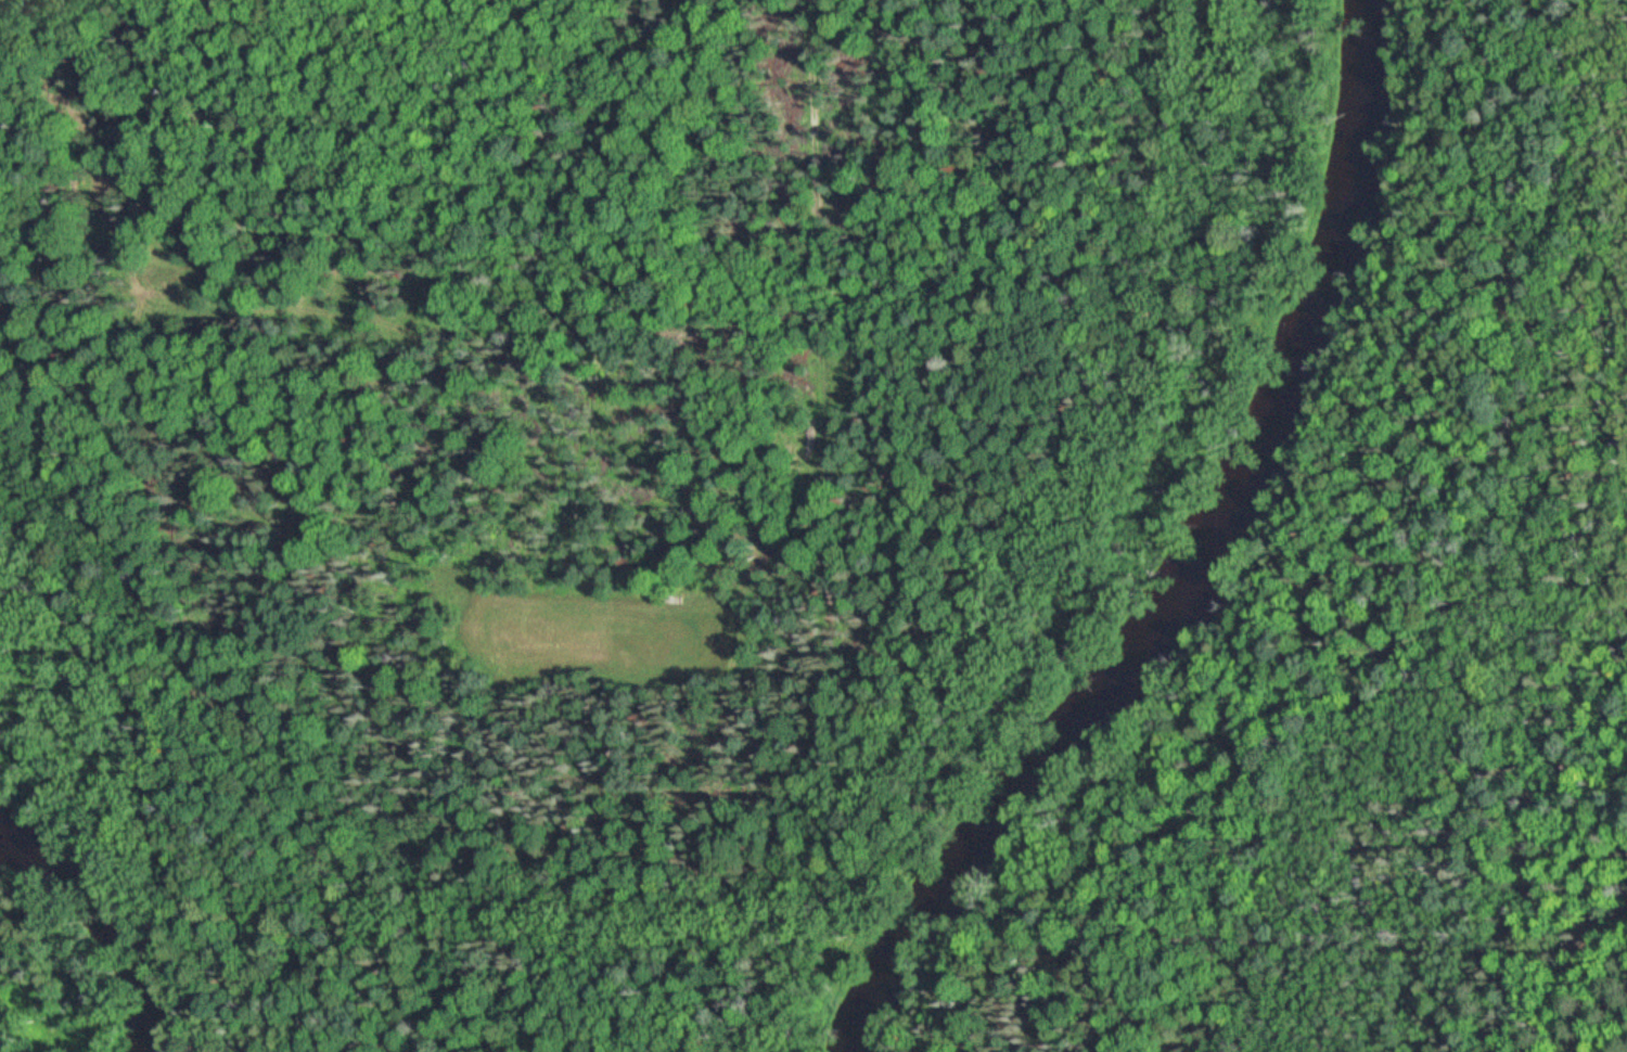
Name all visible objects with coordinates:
river: (1214, 574)
river: (82, 953)

